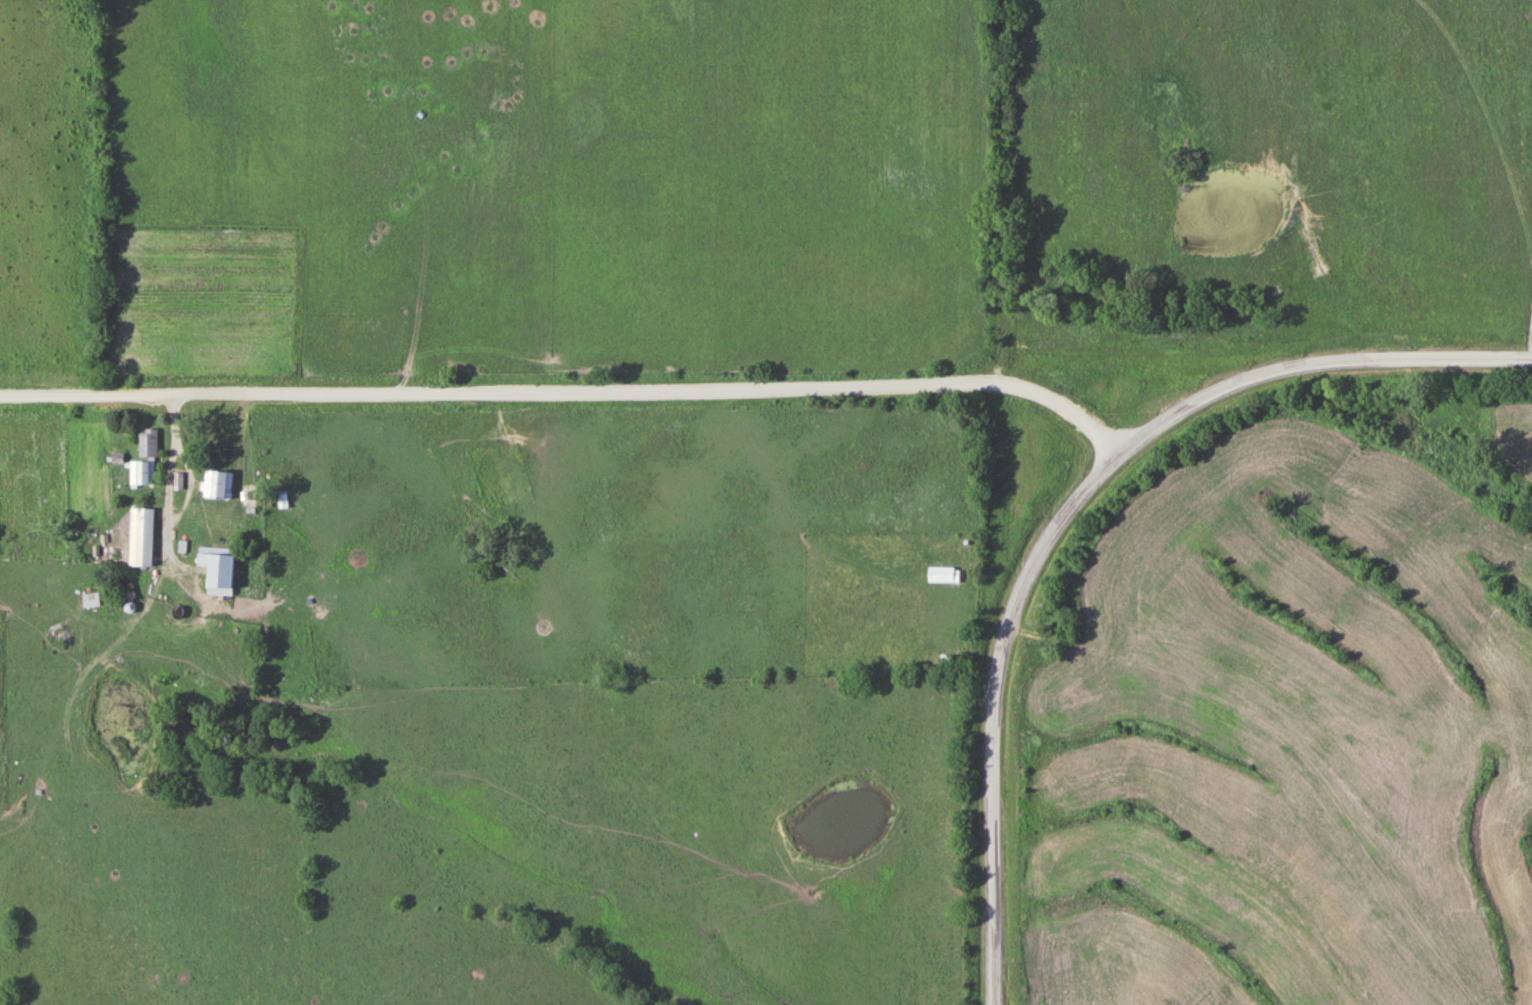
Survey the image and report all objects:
road: (1005, 193)
road: (1315, 364)
road: (572, 391)
building: (150, 444)
building: (143, 474)
road: (174, 476)
building: (218, 486)
building: (143, 538)
building: (219, 570)
building: (945, 575)
road: (997, 711)

